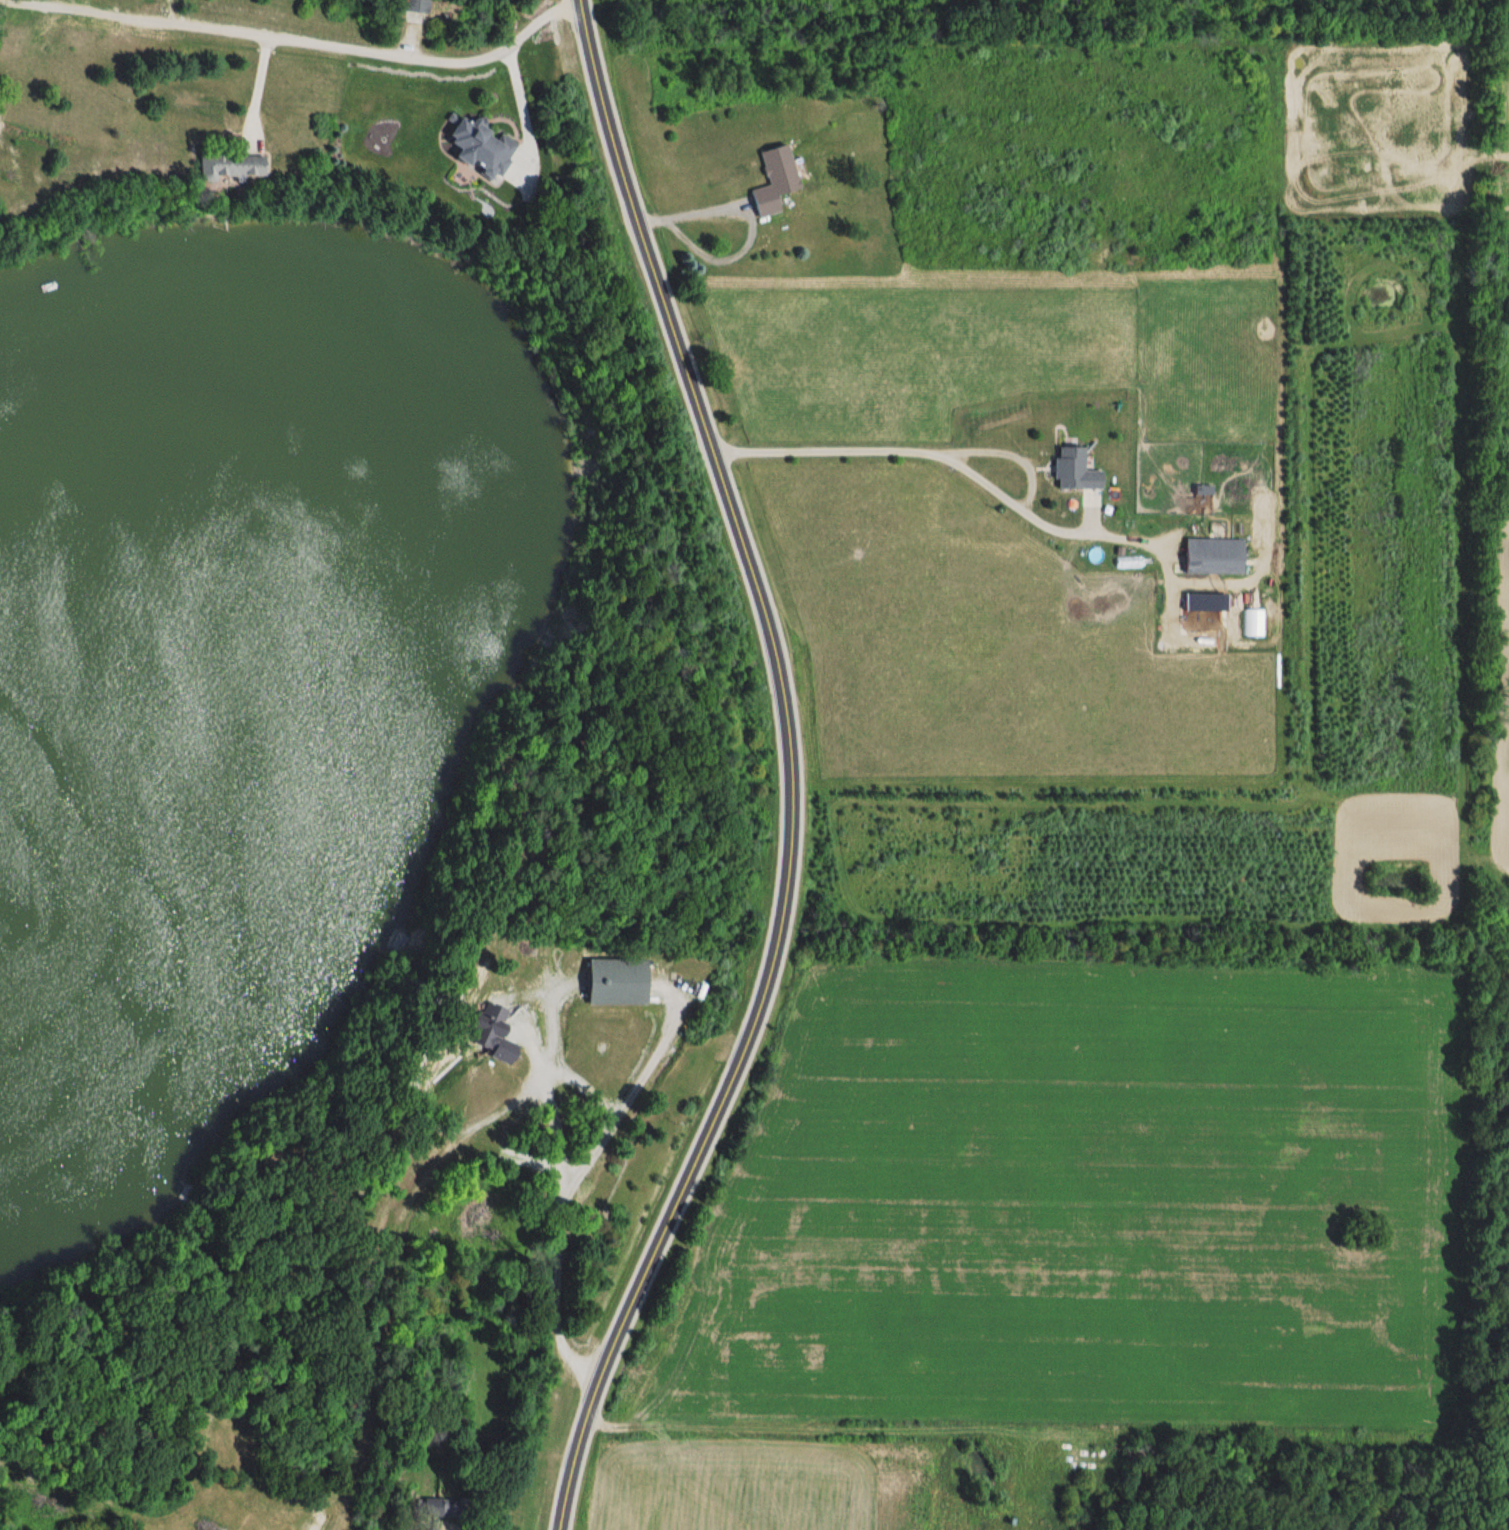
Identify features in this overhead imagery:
building: (415, 6)
road: (84, 11)
road: (381, 53)
road: (524, 110)
building: (479, 148)
building: (228, 166)
building: (773, 181)
road: (751, 224)
road: (943, 451)
building: (1072, 469)
road: (1090, 535)
building: (1212, 556)
road: (793, 770)
building: (614, 981)
building: (489, 1031)
road: (637, 1087)
road: (558, 1217)
building: (433, 1507)

